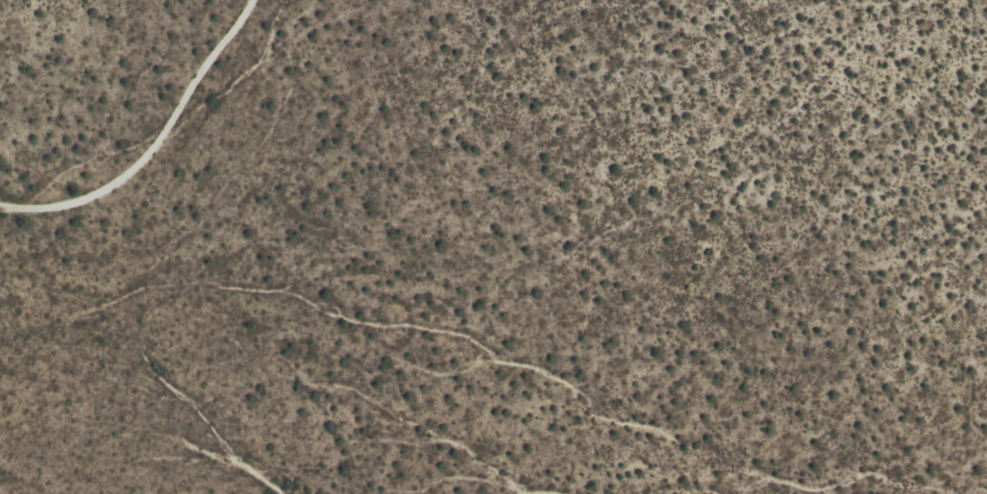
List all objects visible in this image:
road: (151, 144)

